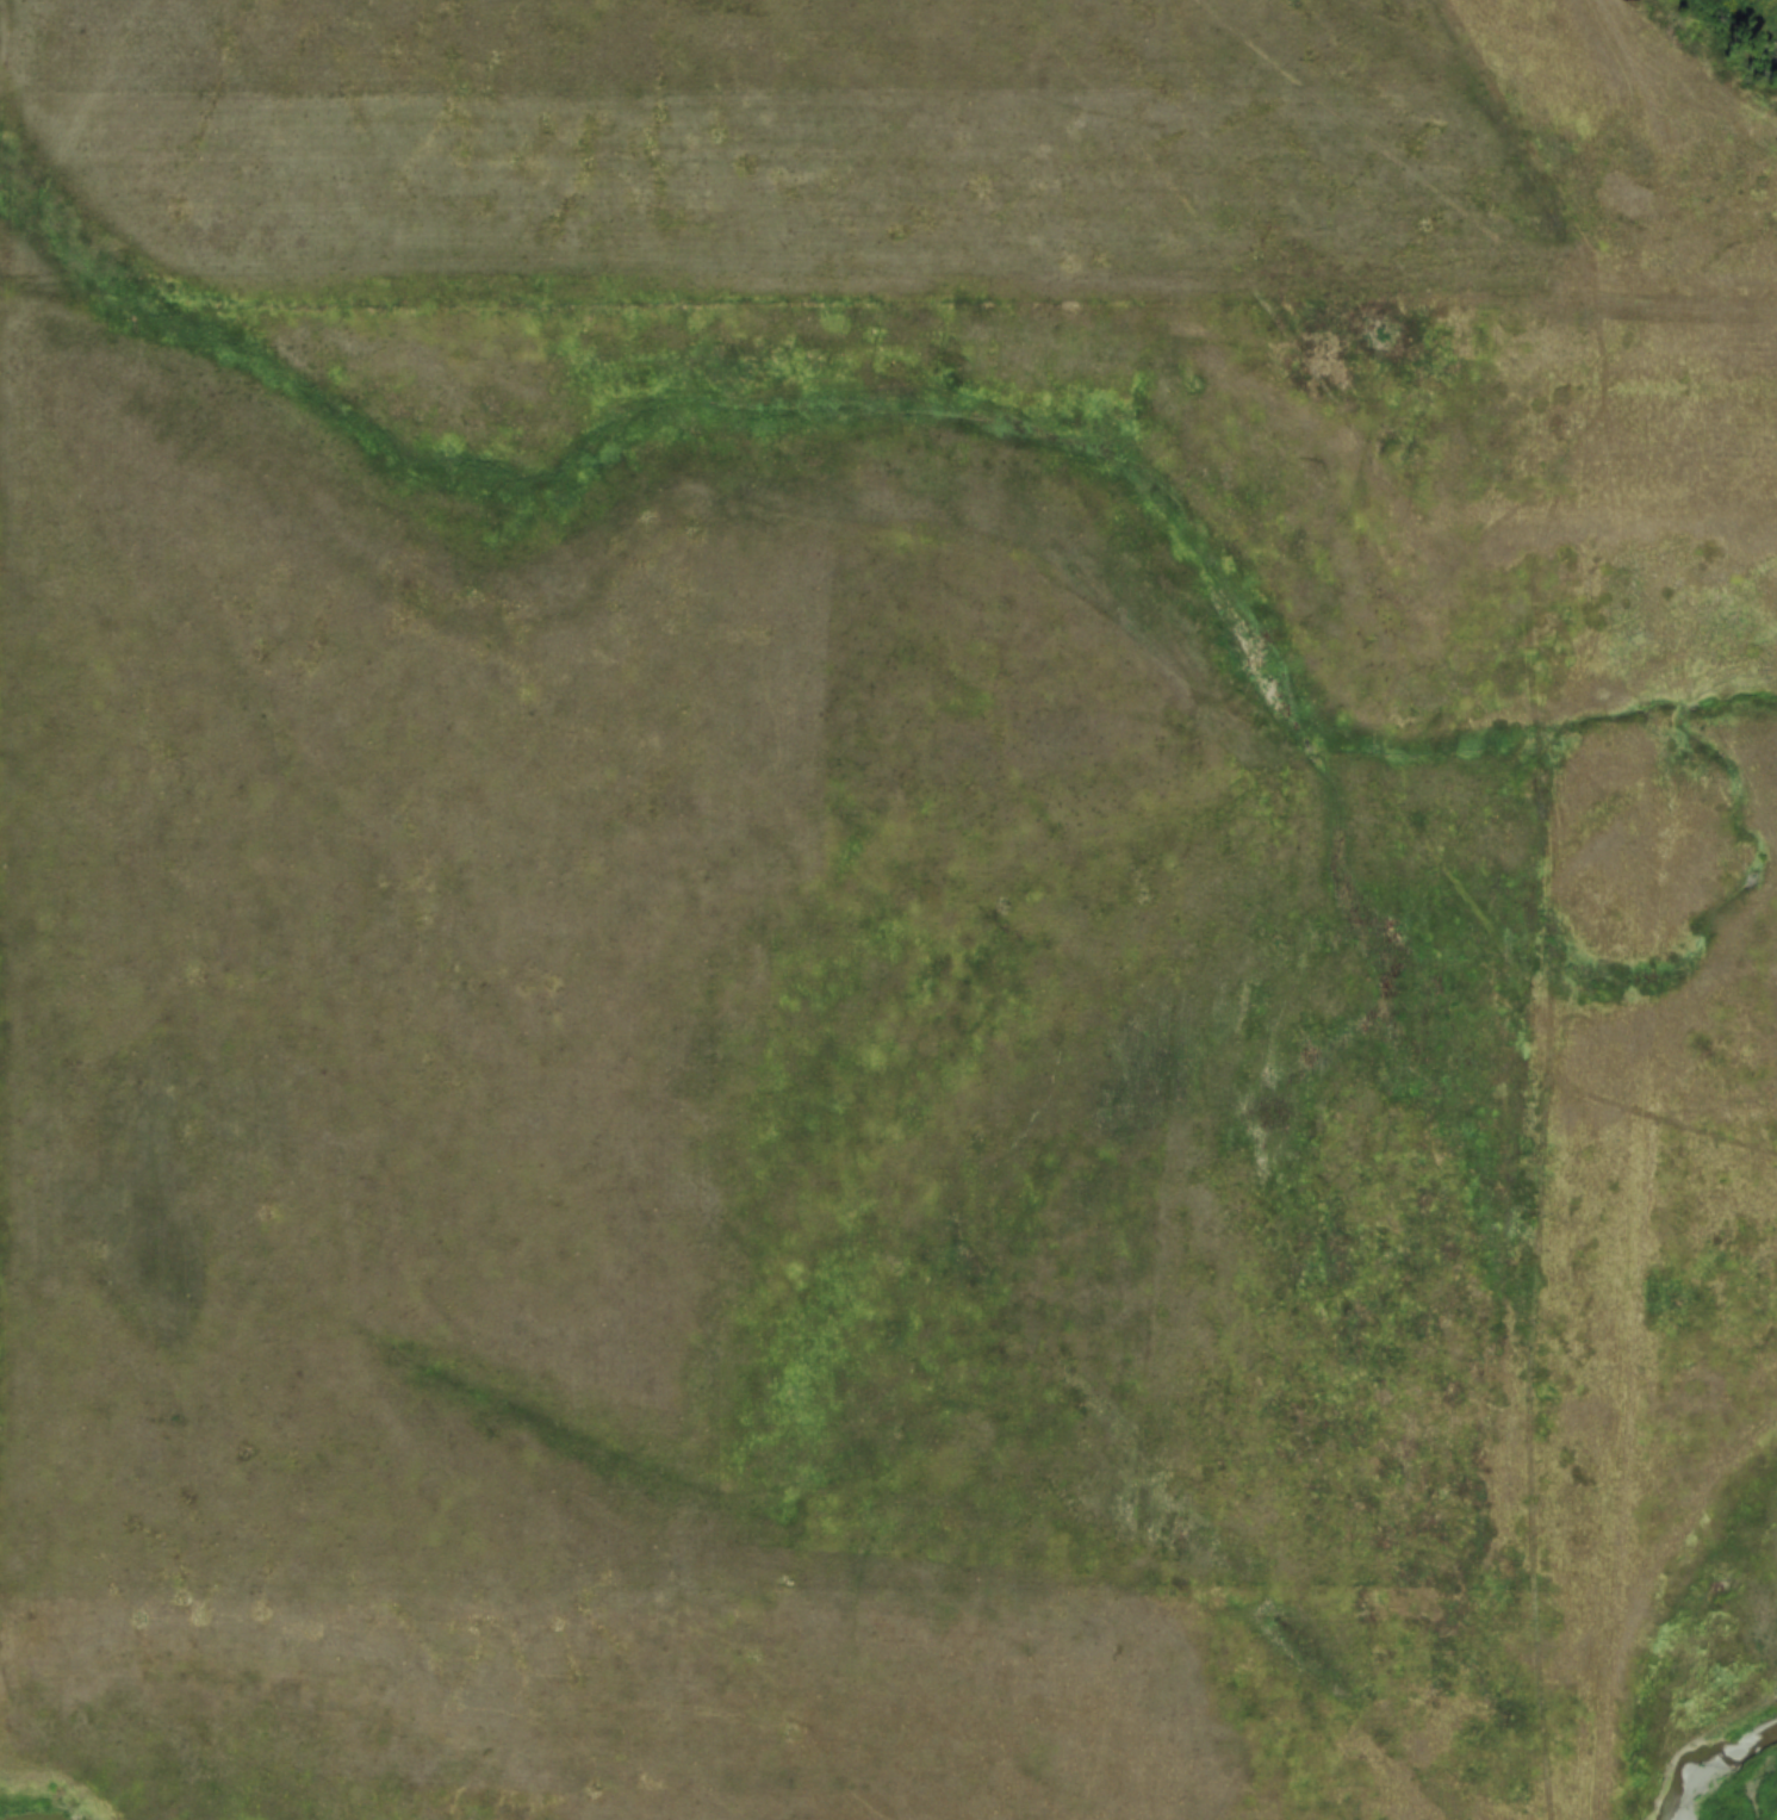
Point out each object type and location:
road: (1642, 174)

